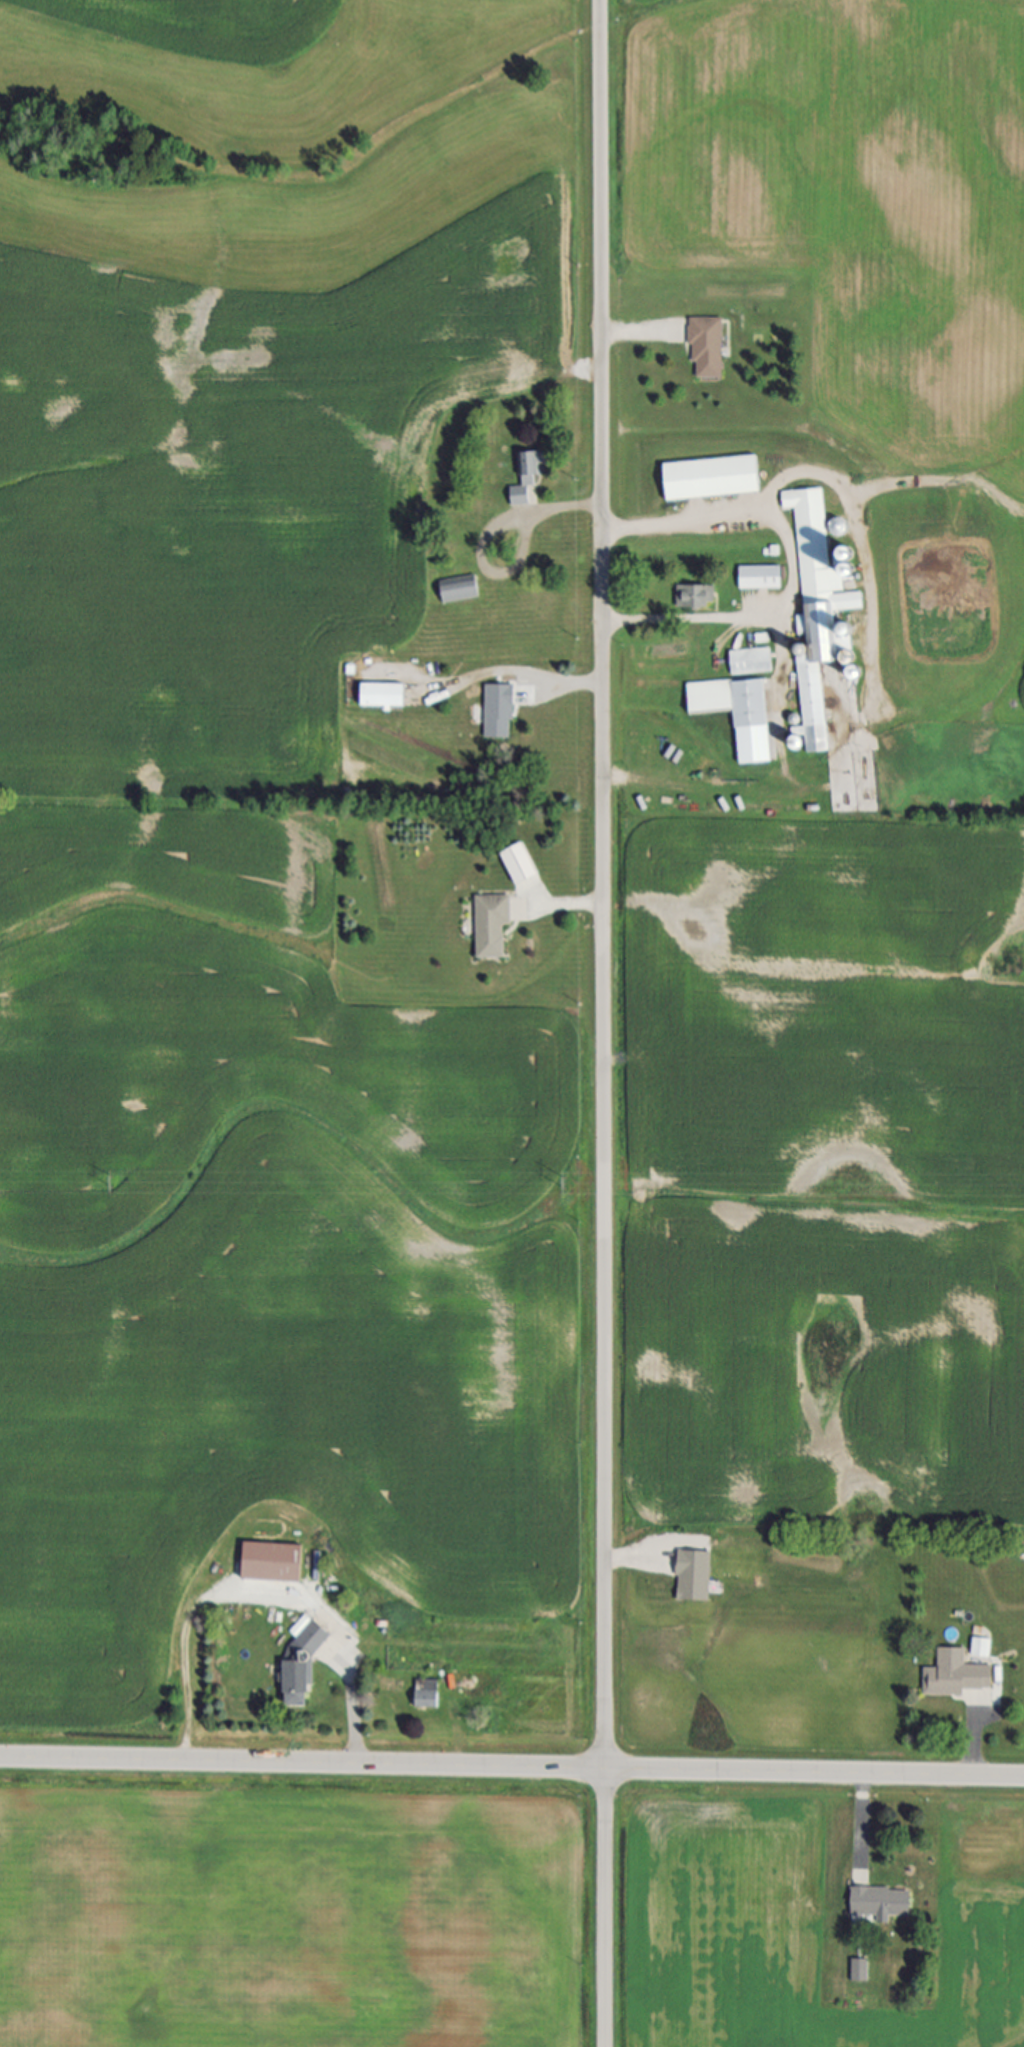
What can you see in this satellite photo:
road: (635, 335)
building: (707, 348)
building: (526, 478)
building: (712, 478)
road: (486, 538)
road: (792, 566)
building: (760, 577)
building: (460, 588)
building: (694, 596)
building: (815, 613)
building: (750, 661)
road: (523, 672)
building: (384, 695)
building: (500, 711)
building: (738, 713)
building: (521, 863)
road: (603, 884)
road: (570, 904)
building: (493, 925)
power tower: (114, 1184)
power tower: (565, 1185)
building: (697, 1576)
building: (301, 1625)
building: (981, 1648)
building: (308, 1660)
building: (958, 1675)
building: (428, 1694)
road: (184, 1699)
road: (353, 1709)
road: (456, 1744)
road: (976, 1748)
road: (511, 1767)
road: (863, 1820)
building: (882, 1902)
road: (606, 1908)
building: (859, 1971)

